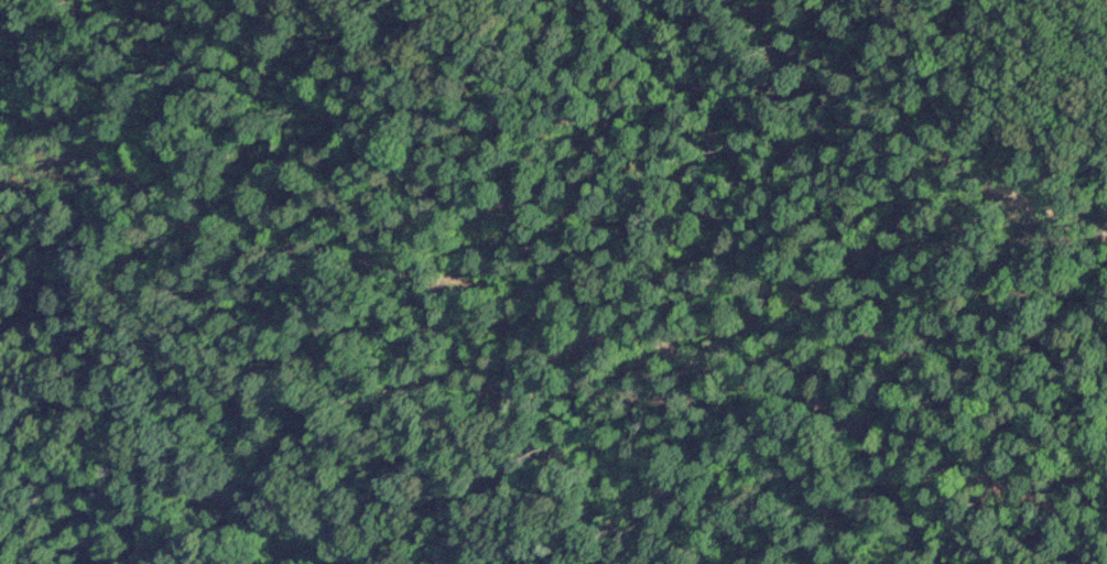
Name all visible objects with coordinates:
road: (156, 471)

